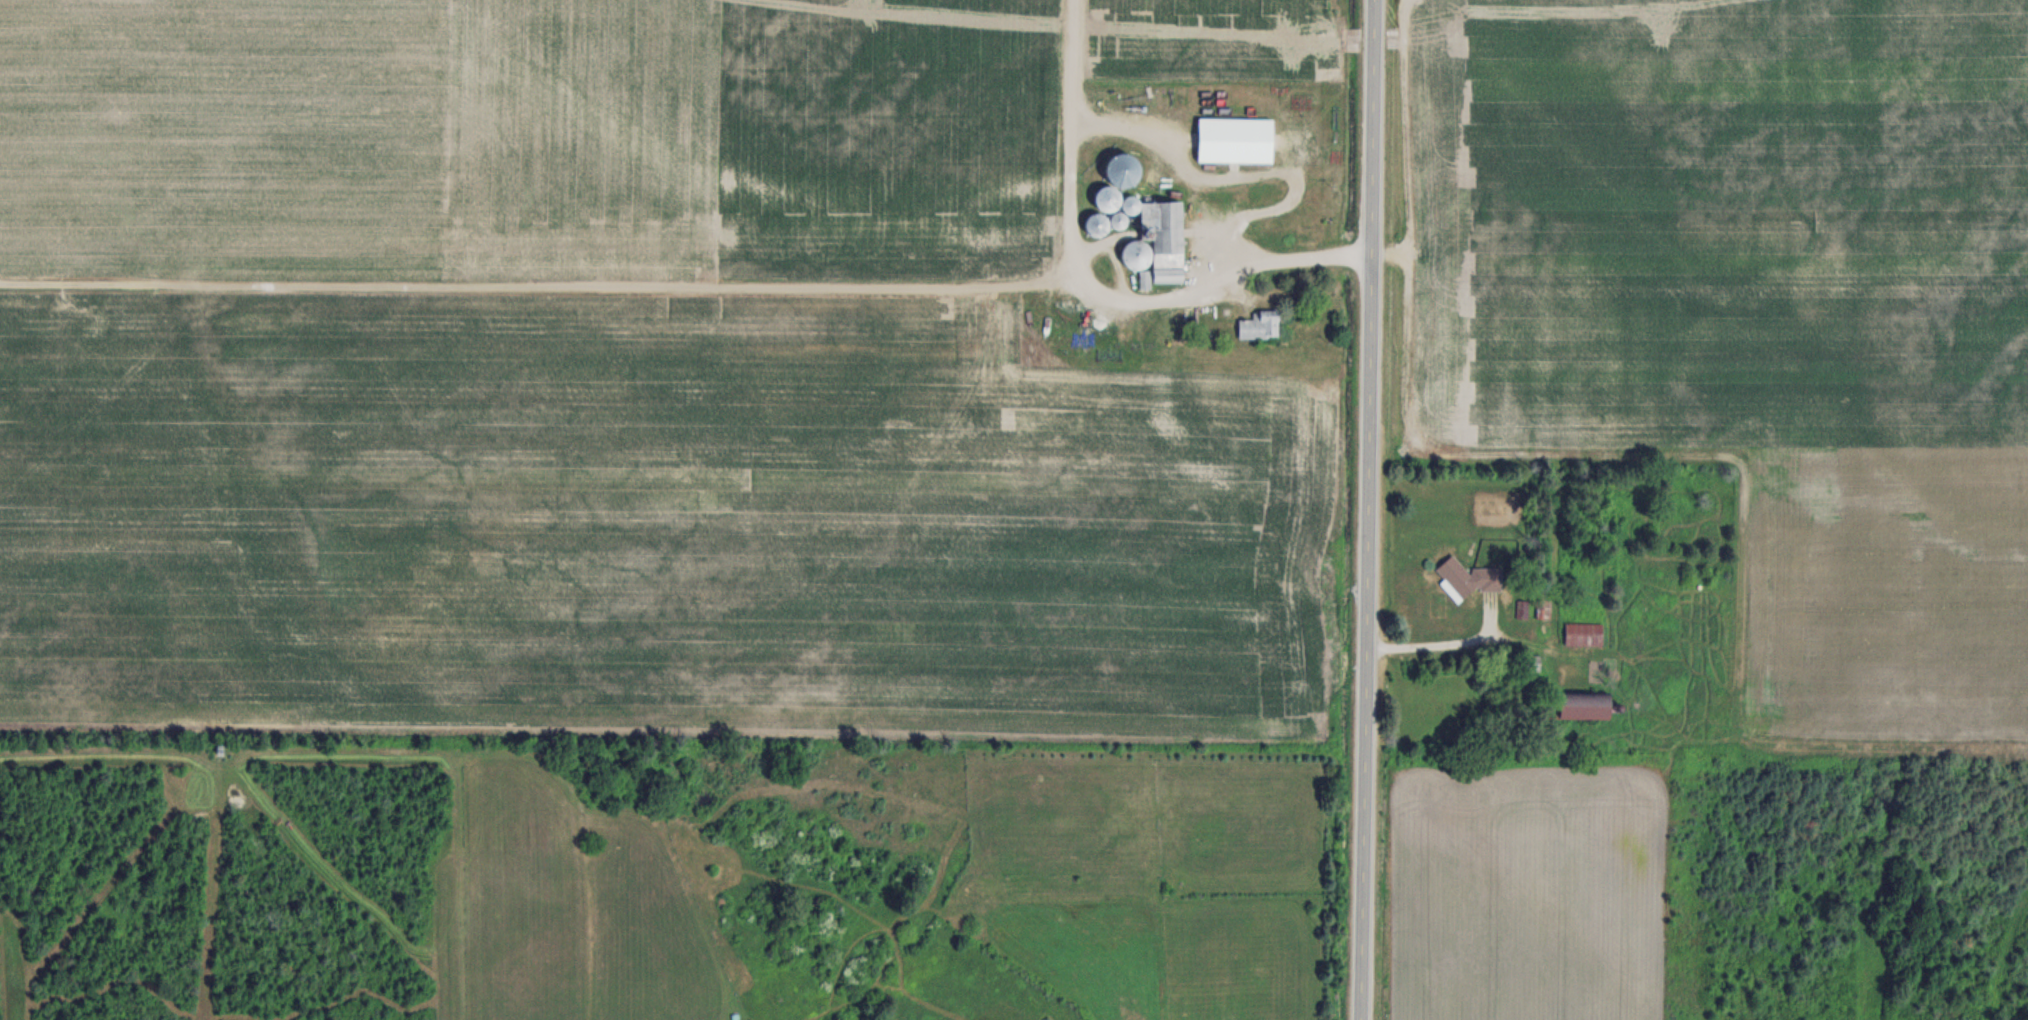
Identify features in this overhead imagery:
building: (1107, 198)
building: (1097, 223)
building: (1157, 238)
building: (1260, 325)
building: (1180, 331)
road: (1368, 510)
building: (1467, 576)
building: (1583, 633)
building: (1583, 704)
building: (1771, 729)

